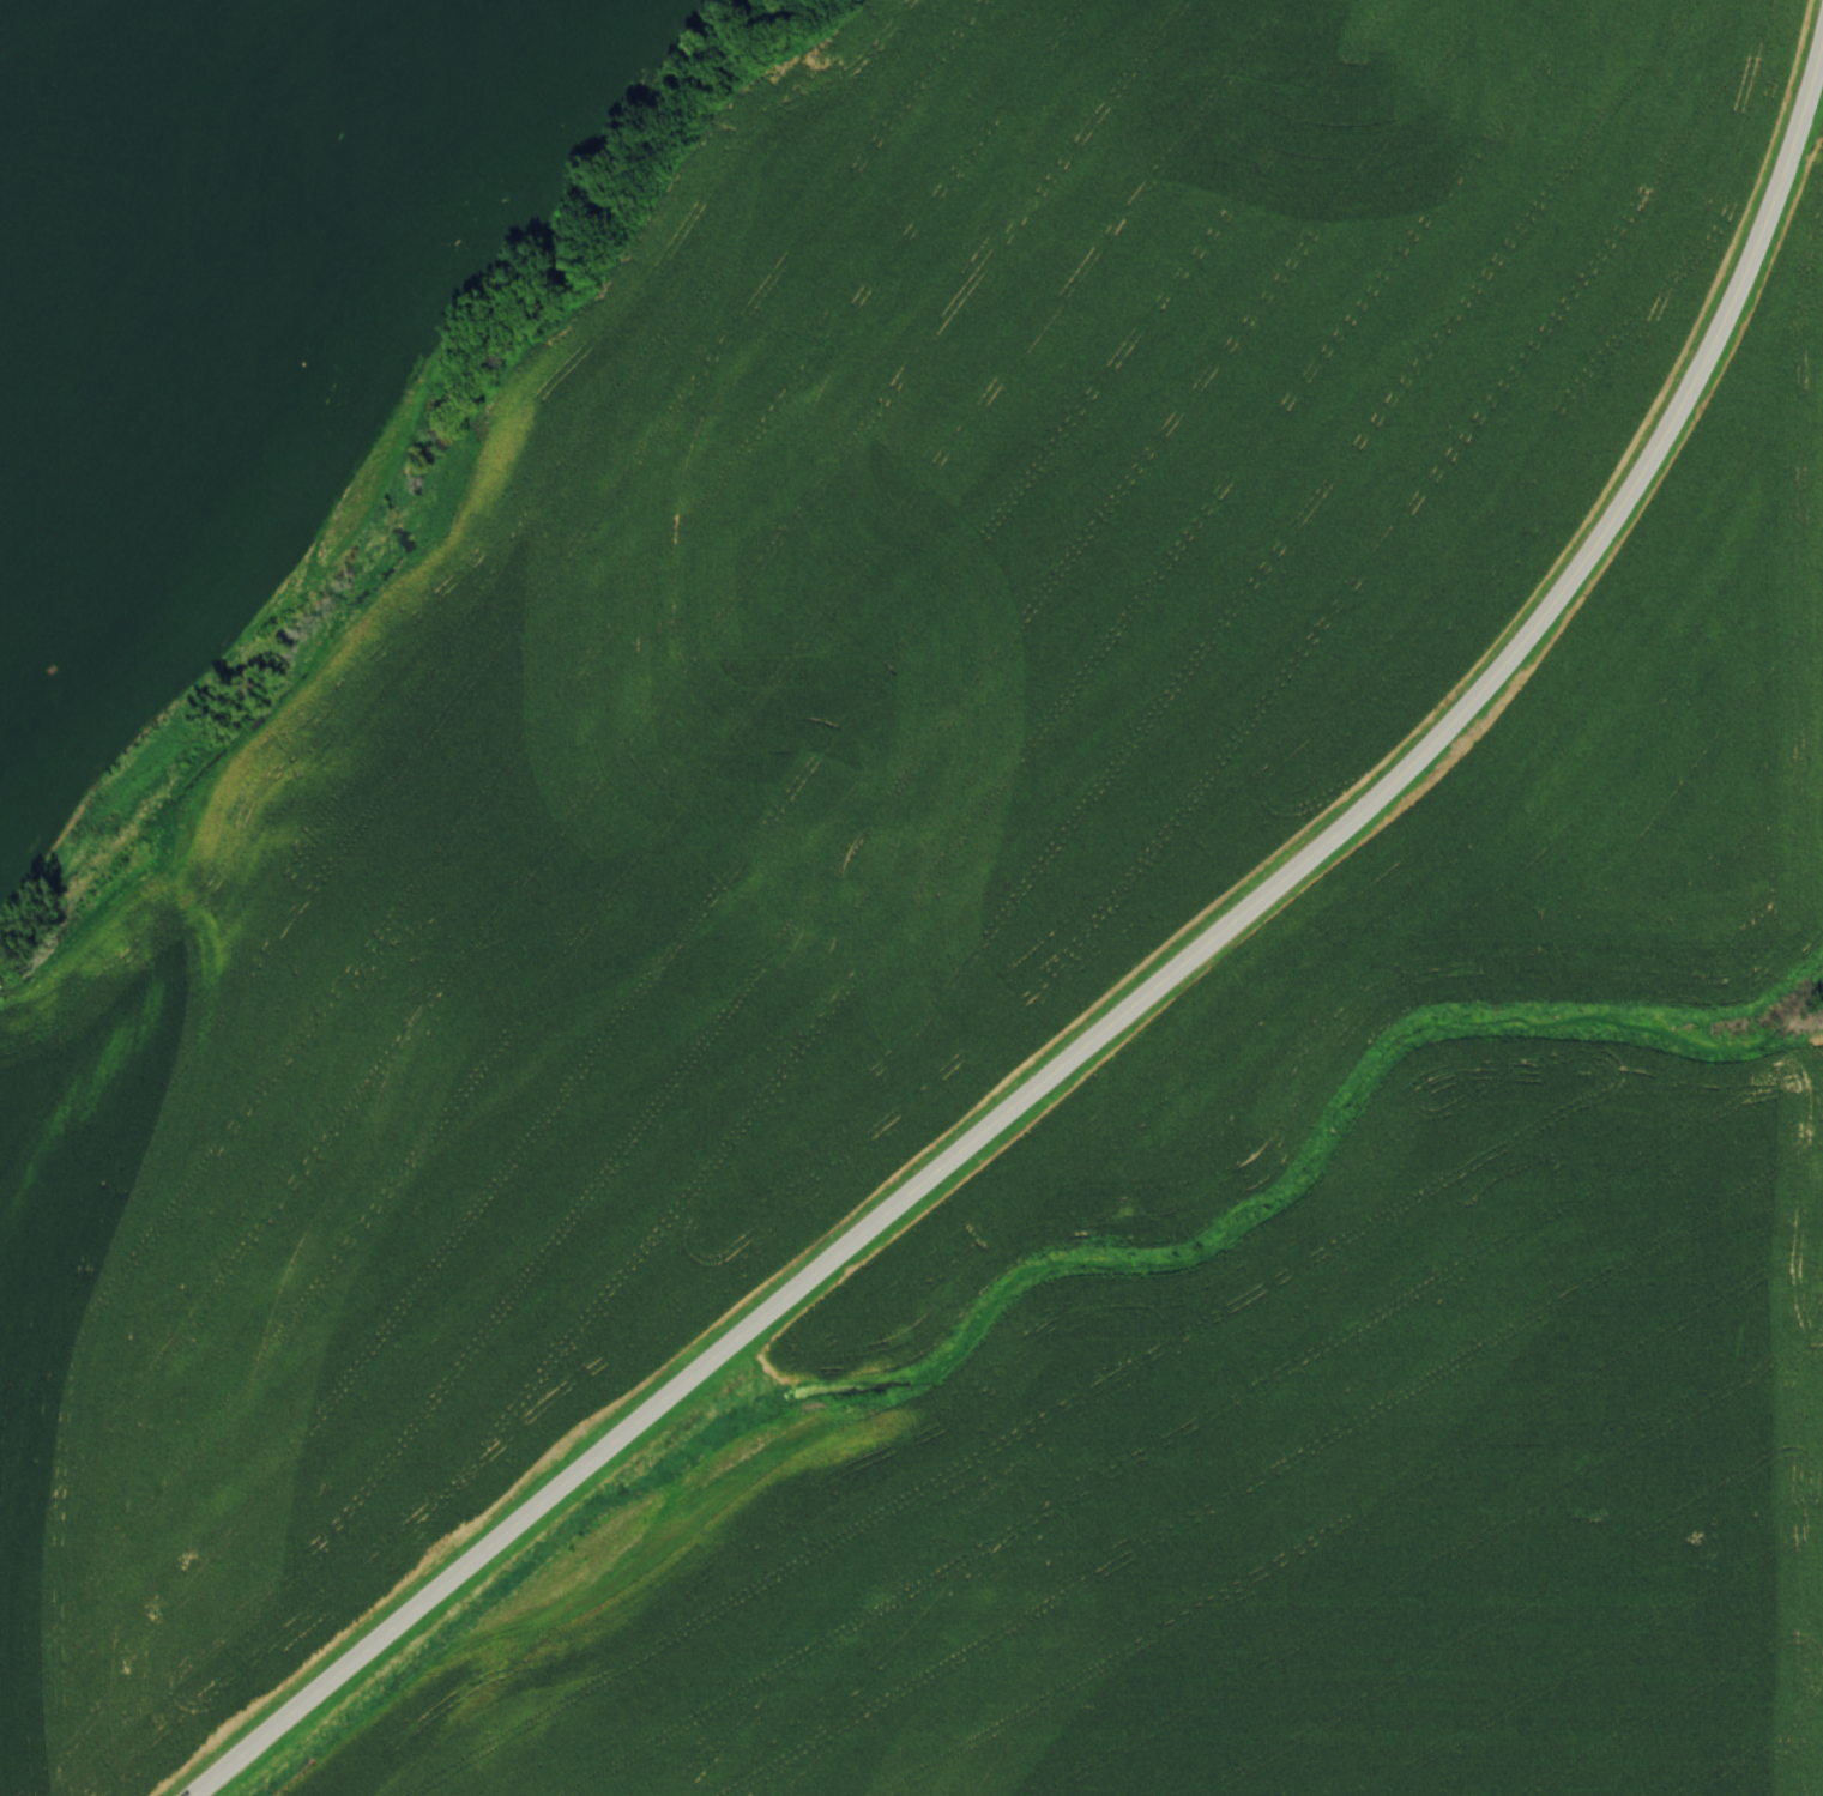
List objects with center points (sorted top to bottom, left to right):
road: (1129, 1014)

